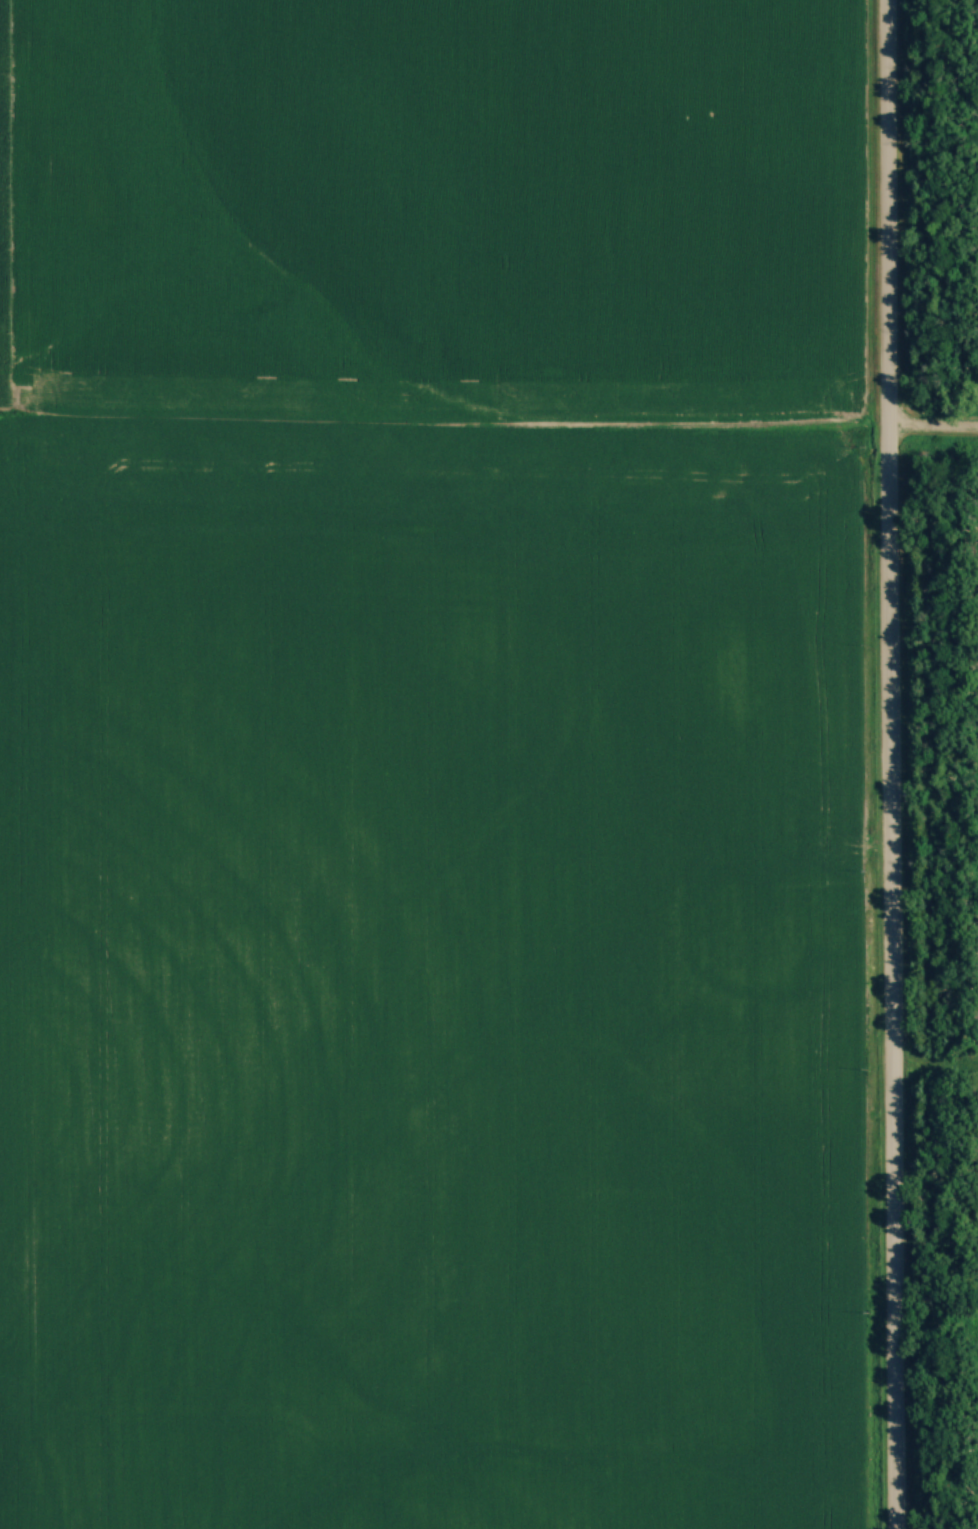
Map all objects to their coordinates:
road: (932, 432)
road: (888, 764)

